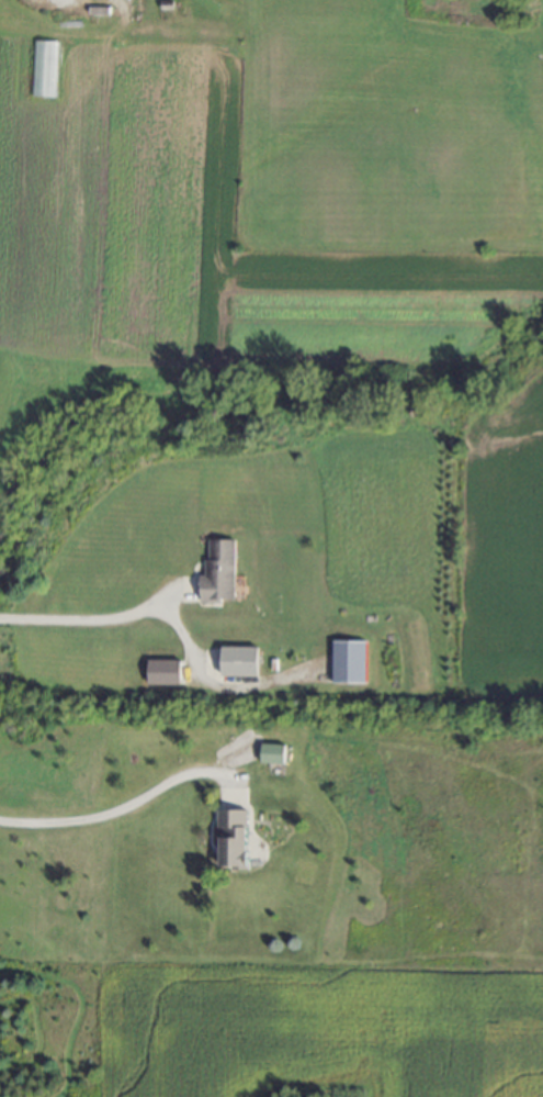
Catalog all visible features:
building: (45, 68)
crop: (279, 195)
crop: (502, 549)
building: (219, 572)
road: (97, 623)
building: (239, 661)
building: (349, 662)
building: (163, 672)
building: (272, 753)
road: (116, 815)
building: (234, 838)
crop: (317, 1030)

